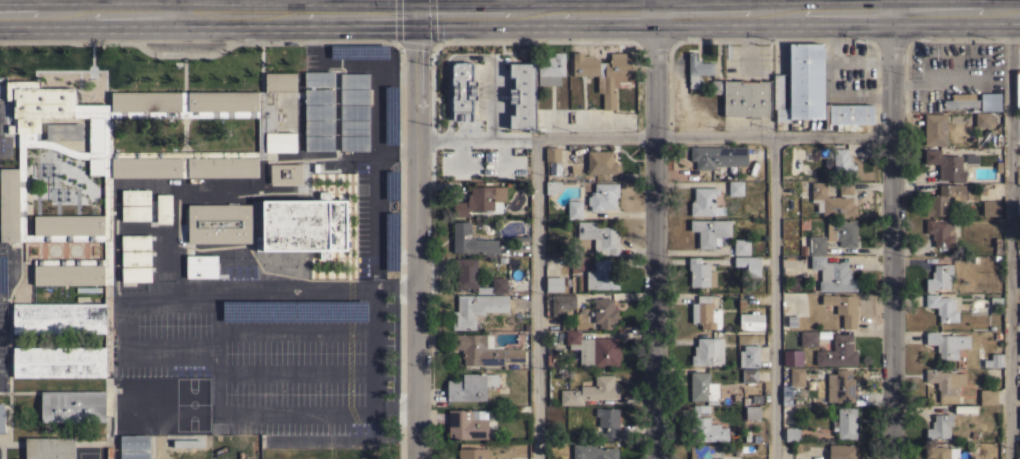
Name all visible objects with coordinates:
road: (1007, 5)
road: (176, 6)
road: (298, 6)
road: (764, 6)
road: (97, 7)
traffic signals: (413, 13)
road: (510, 13)
building: (361, 49)
building: (551, 69)
building: (604, 73)
building: (703, 73)
road: (397, 76)
building: (318, 78)
building: (354, 80)
building: (800, 84)
building: (1017, 88)
building: (462, 91)
building: (318, 96)
building: (354, 96)
building: (522, 96)
building: (747, 98)
building: (961, 101)
building: (990, 101)
building: (318, 111)
building: (354, 111)
building: (388, 114)
building: (848, 116)
building: (982, 119)
building: (318, 127)
building: (354, 127)
building: (935, 129)
building: (64, 131)
road: (653, 136)
building: (354, 142)
building: (318, 143)
building: (552, 154)
road: (302, 156)
building: (718, 156)
building: (971, 158)
building: (601, 162)
building: (842, 162)
building: (946, 164)
building: (998, 167)
building: (285, 173)
road: (376, 183)
building: (386, 183)
building: (203, 185)
building: (552, 186)
building: (735, 187)
building: (981, 191)
building: (135, 196)
building: (603, 196)
building: (946, 198)
building: (110, 199)
building: (479, 199)
building: (833, 199)
building: (705, 202)
building: (163, 208)
building: (991, 208)
building: (1018, 208)
building: (574, 209)
building: (135, 212)
building: (219, 223)
building: (304, 225)
road: (416, 229)
road: (655, 229)
road: (891, 229)
building: (710, 231)
building: (842, 231)
building: (940, 232)
road: (1009, 234)
building: (600, 237)
building: (387, 240)
building: (470, 241)
building: (135, 242)
building: (817, 245)
building: (741, 246)
building: (997, 246)
building: (135, 258)
building: (948, 259)
building: (749, 264)
building: (204, 266)
building: (700, 273)
building: (136, 274)
building: (832, 274)
building: (602, 275)
building: (474, 277)
building: (939, 277)
building: (795, 283)
building: (554, 284)
road: (774, 297)
road: (533, 298)
building: (995, 299)
building: (562, 303)
building: (741, 303)
building: (842, 307)
building: (942, 307)
building: (294, 309)
building: (476, 309)
building: (605, 312)
building: (705, 313)
road: (216, 317)
building: (751, 320)
building: (791, 321)
road: (296, 330)
building: (809, 338)
building: (947, 343)
road: (128, 347)
building: (594, 349)
building: (484, 350)
building: (708, 351)
building: (838, 352)
building: (749, 356)
building: (789, 357)
building: (553, 360)
building: (994, 360)
road: (295, 372)
building: (749, 374)
building: (797, 376)
building: (945, 383)
building: (470, 386)
building: (840, 386)
building: (702, 387)
building: (590, 390)
building: (786, 394)
building: (988, 396)
building: (72, 406)
building: (965, 409)
building: (752, 412)
building: (1, 418)
building: (608, 422)
building: (845, 423)
building: (467, 424)
building: (706, 426)
building: (939, 426)
building: (792, 434)
building: (134, 442)
building: (187, 443)
building: (49, 448)
building: (1019, 449)
building: (705, 451)
building: (842, 451)
building: (937, 451)
building: (593, 452)
building: (472, 453)
building: (134, 455)

